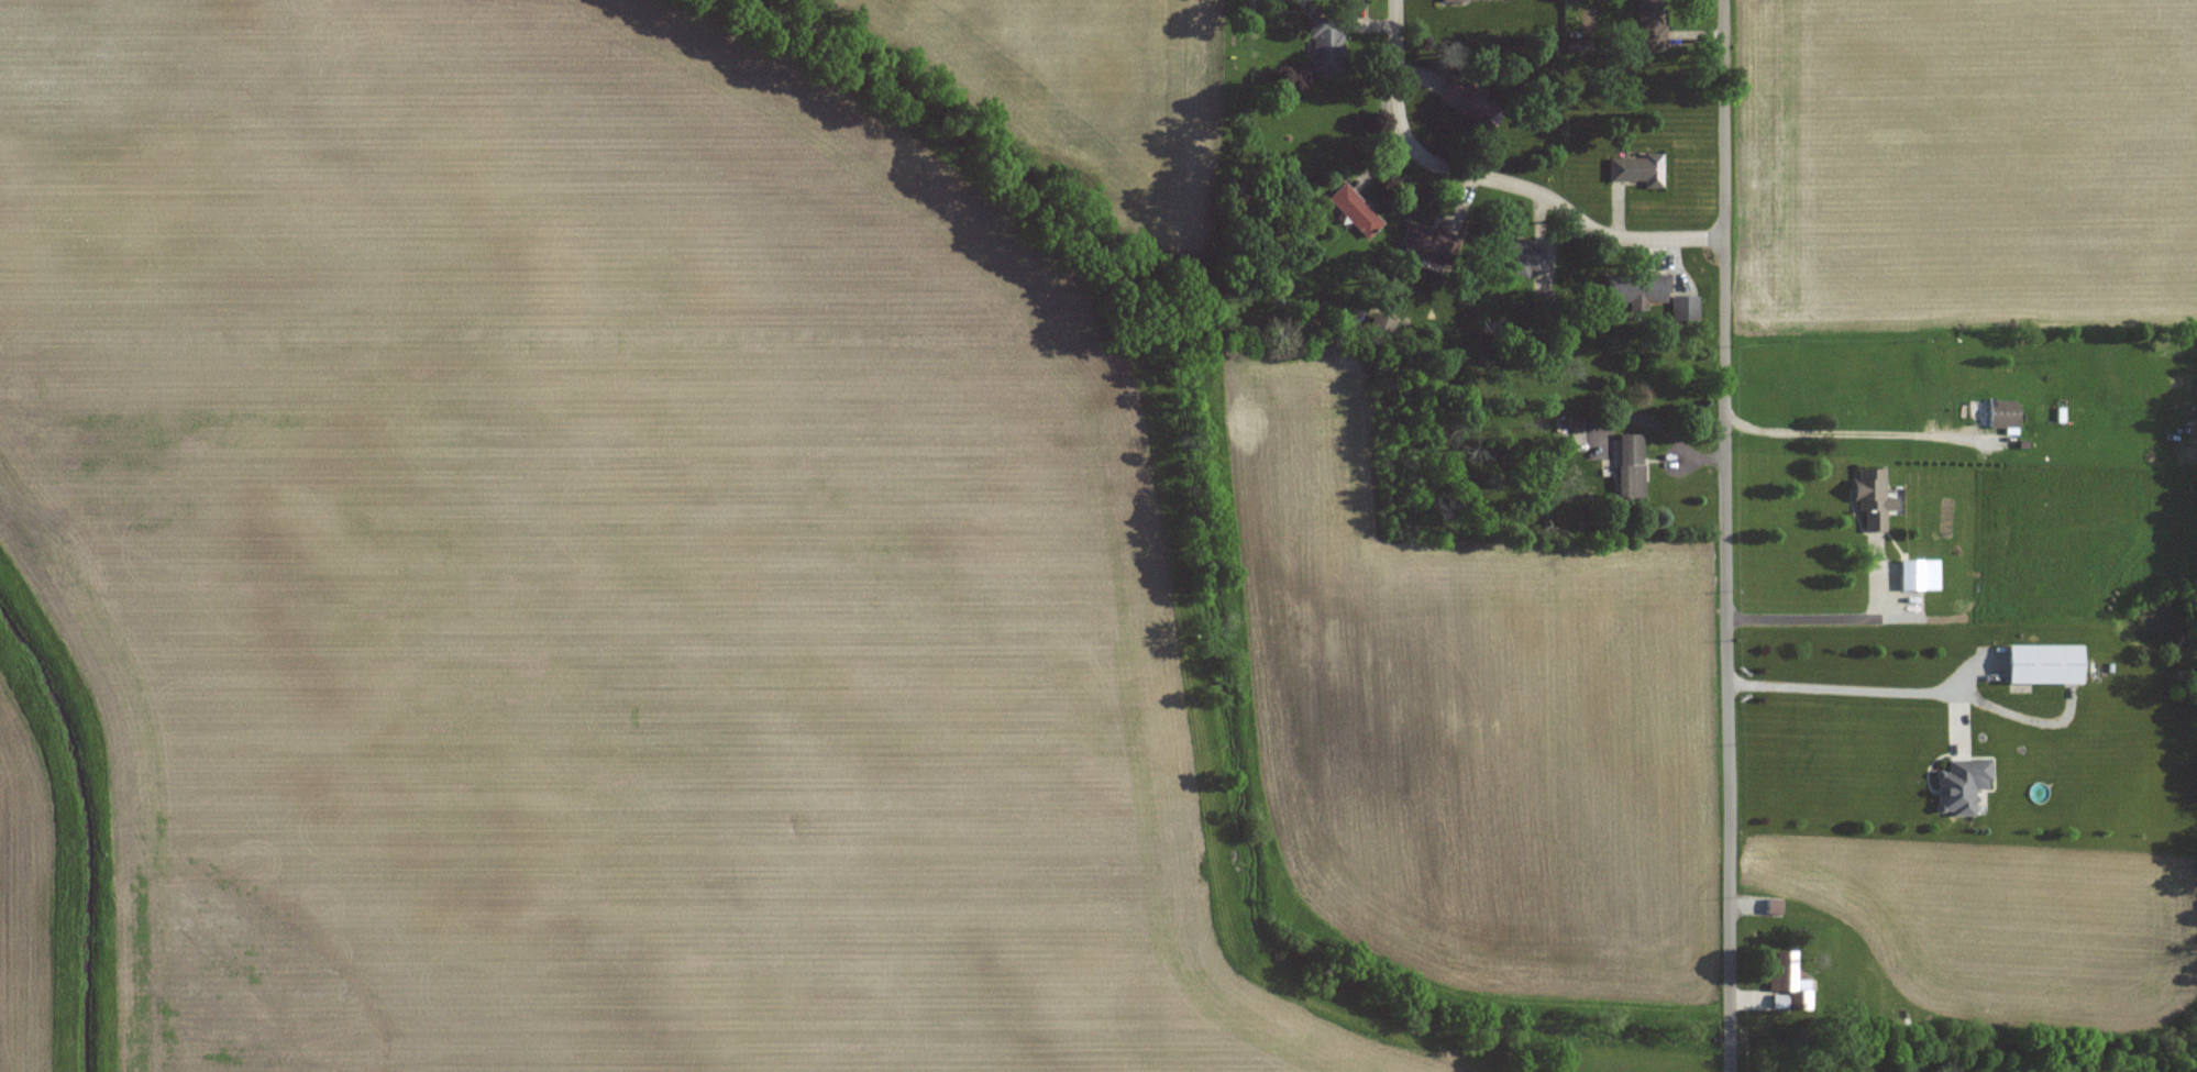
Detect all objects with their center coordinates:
building: (1454, 0)
building: (1652, 23)
building: (1327, 45)
building: (1475, 104)
building: (1638, 170)
road: (1498, 180)
building: (1357, 211)
building: (1433, 244)
building: (1519, 255)
building: (1638, 289)
building: (1686, 308)
building: (1990, 400)
road: (1861, 413)
building: (1632, 466)
building: (1874, 498)
road: (1726, 535)
building: (1913, 574)
road: (1832, 601)
building: (2046, 664)
road: (1867, 684)
building: (1963, 785)
building: (1790, 984)

